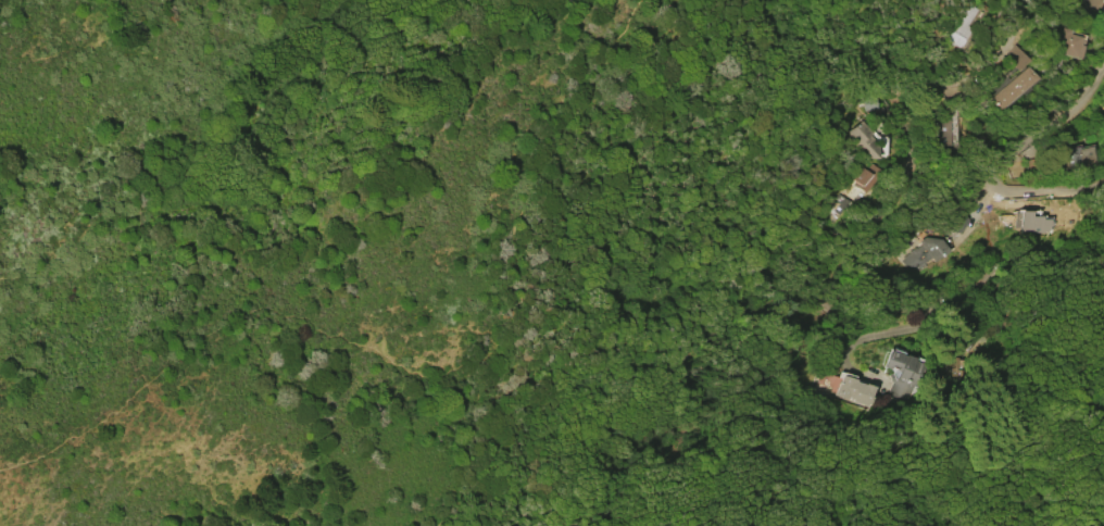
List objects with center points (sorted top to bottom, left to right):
building: (1084, 4)
building: (961, 24)
building: (1070, 43)
building: (1015, 58)
building: (1013, 88)
building: (944, 128)
building: (862, 139)
building: (1076, 159)
road: (1012, 171)
building: (866, 177)
road: (881, 221)
building: (961, 223)
building: (1033, 223)
road: (516, 250)
building: (927, 251)
road: (229, 331)
building: (903, 373)
building: (855, 390)
road: (1038, 490)

